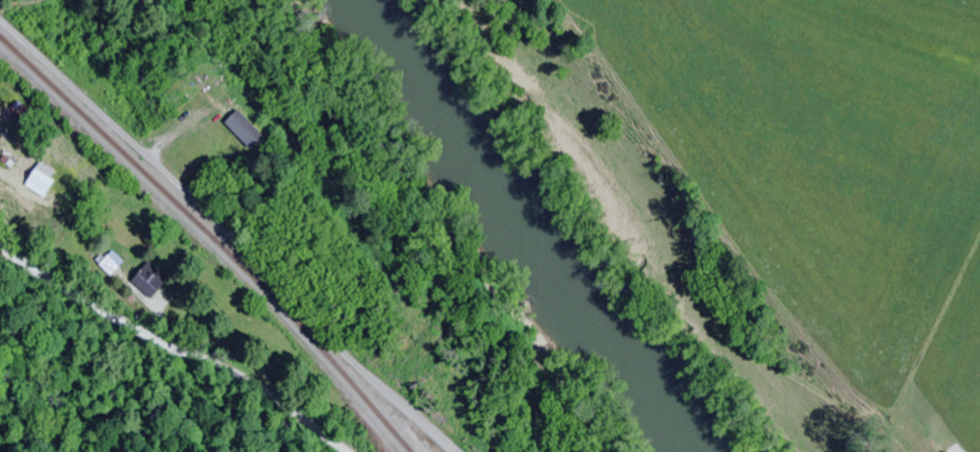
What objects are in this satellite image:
building: (245, 130)
road: (4, 174)
building: (41, 180)
river: (527, 228)
road: (226, 235)
railway: (211, 239)
building: (150, 280)
road: (178, 336)

